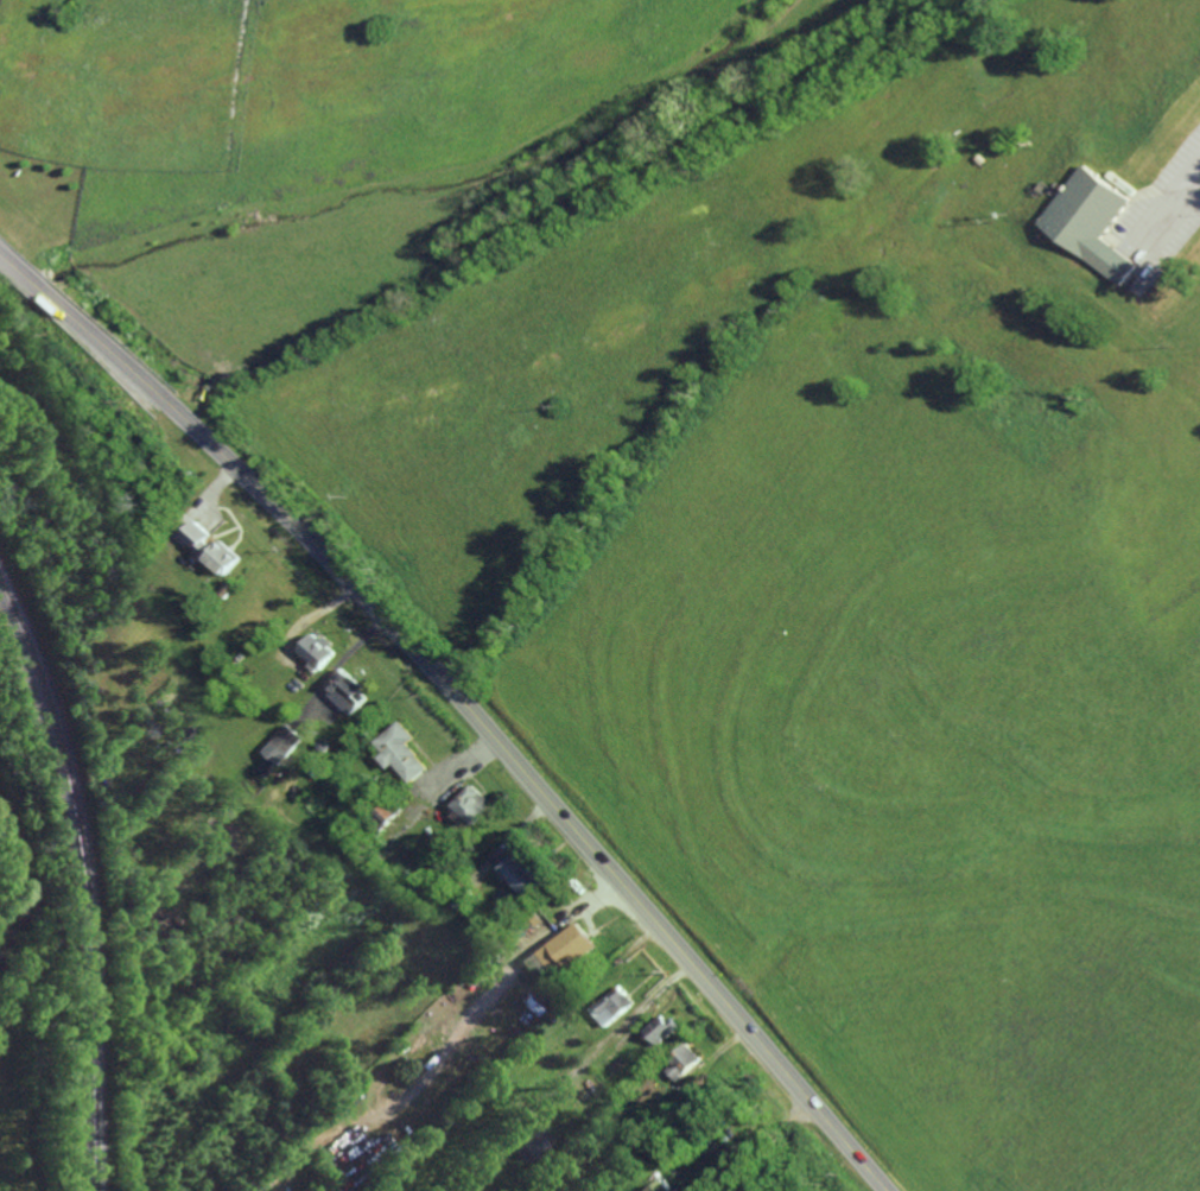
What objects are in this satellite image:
building: (1096, 222)
building: (216, 543)
building: (151, 590)
building: (322, 648)
building: (350, 688)
road: (464, 702)
building: (185, 731)
building: (285, 742)
building: (404, 749)
building: (267, 761)
building: (471, 804)
building: (386, 810)
building: (388, 844)
building: (434, 857)
building: (522, 872)
railway: (84, 880)
building: (464, 898)
building: (171, 933)
building: (571, 944)
building: (496, 955)
building: (487, 961)
building: (614, 1002)
building: (661, 1028)
building: (685, 1062)
building: (601, 1094)
building: (608, 1094)
building: (596, 1104)
building: (589, 1111)
building: (584, 1115)
building: (558, 1128)
road: (758, 1145)
building: (490, 1164)
building: (660, 1186)

